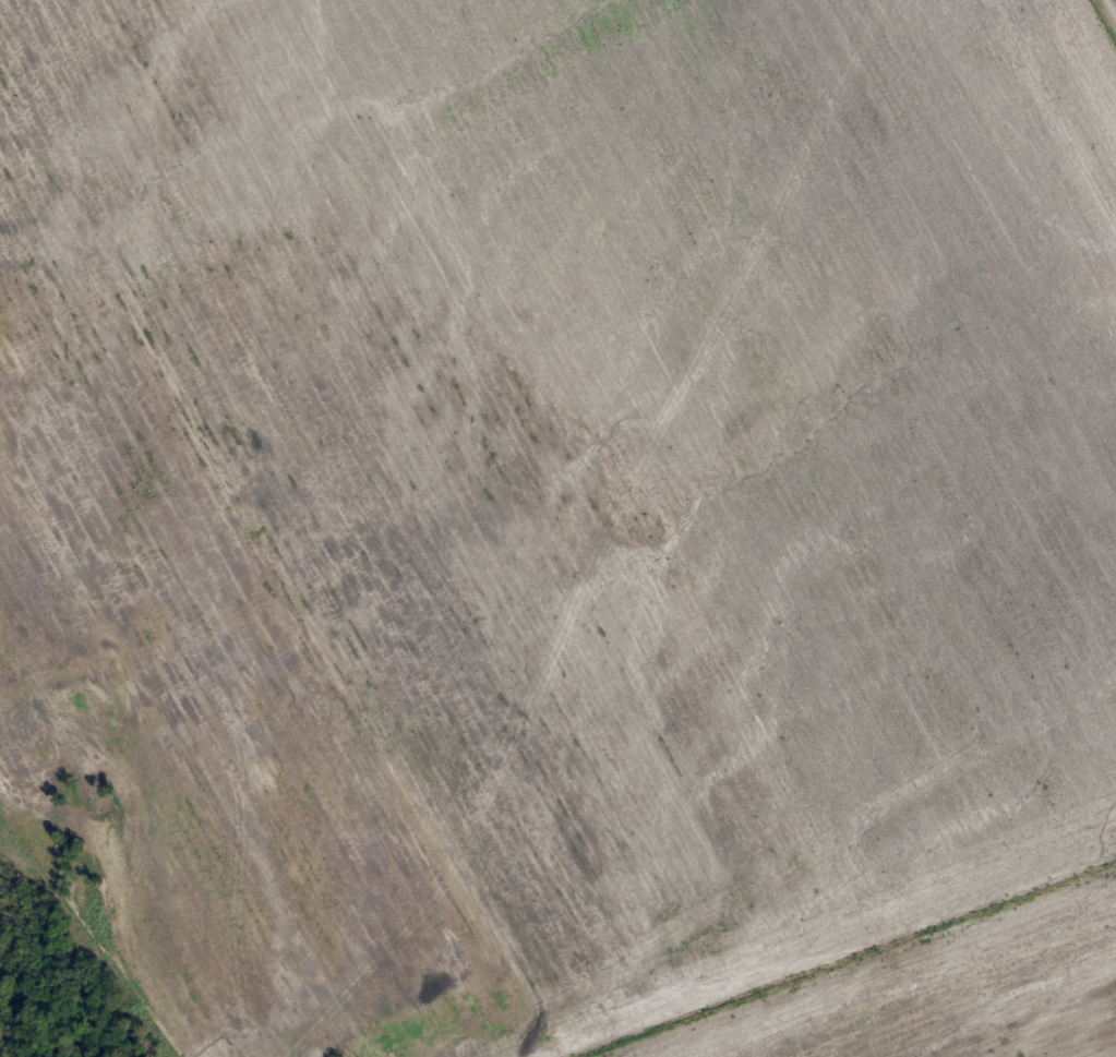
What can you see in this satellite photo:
road: (1113, 5)

